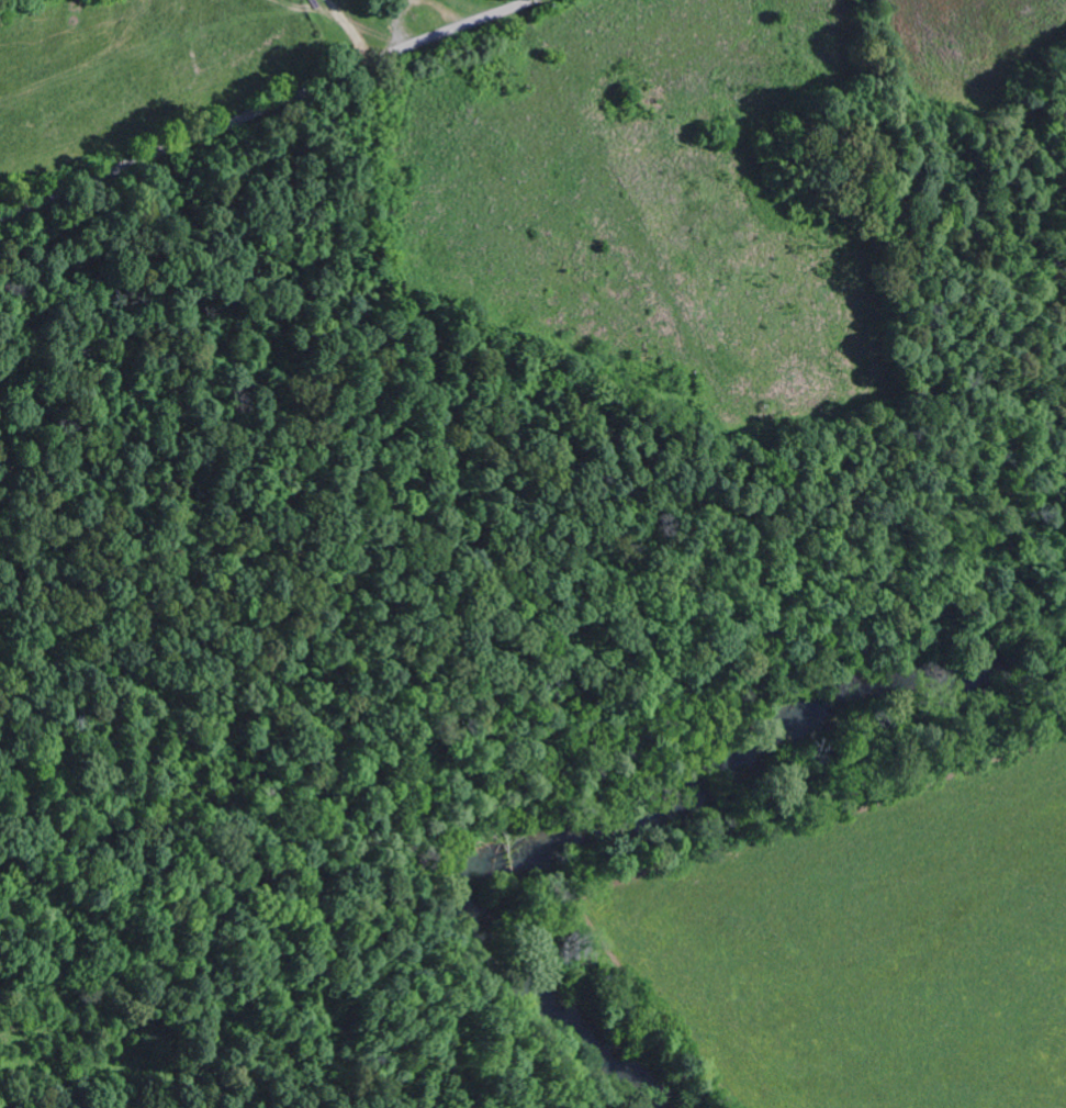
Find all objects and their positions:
road: (265, 109)

